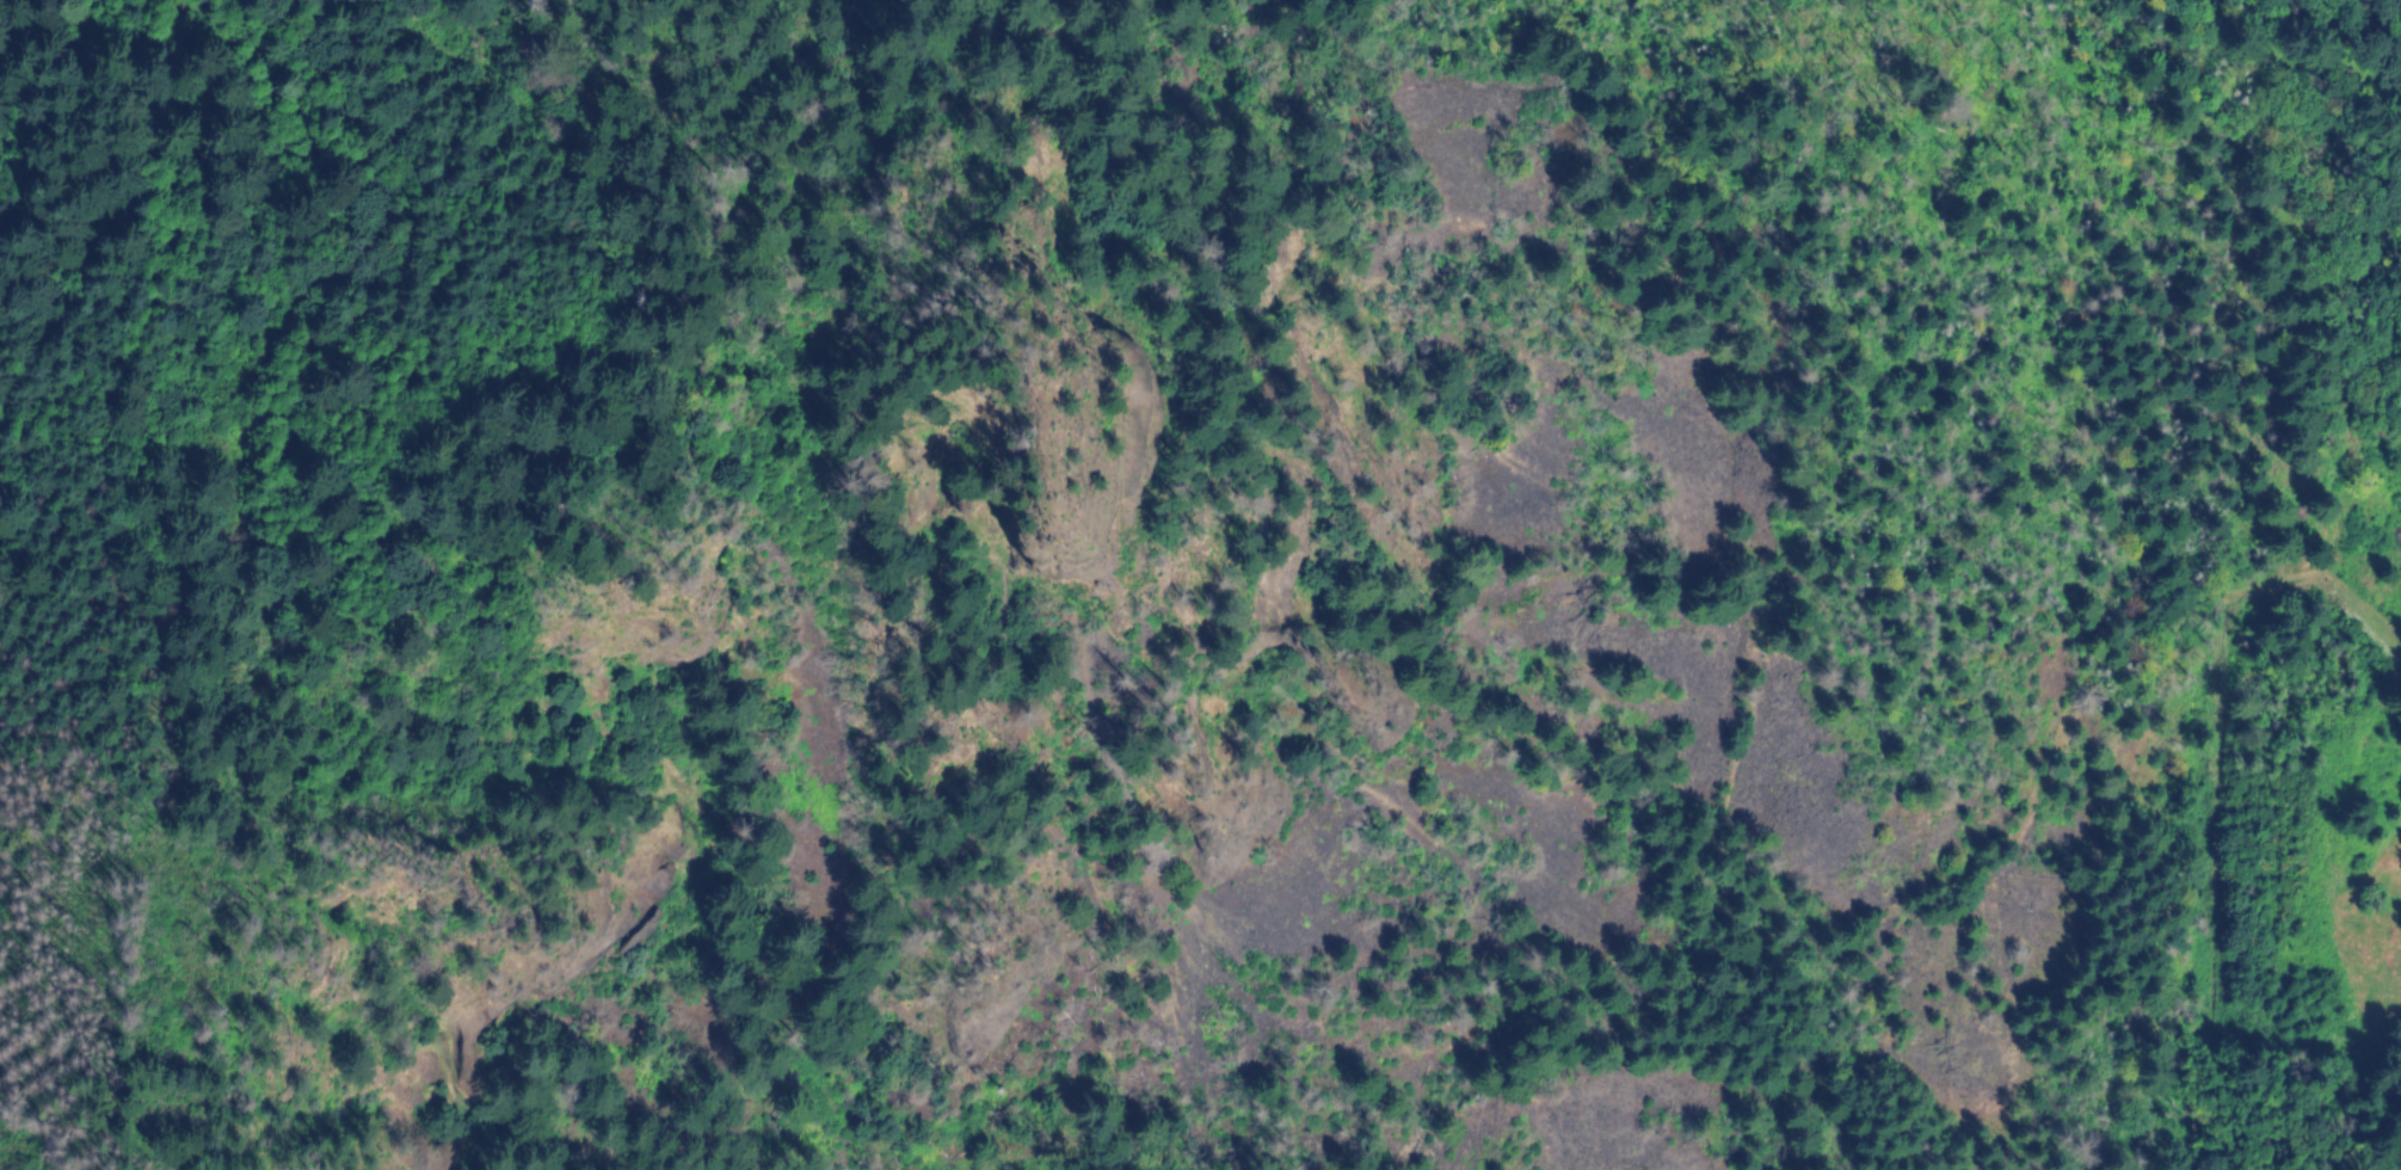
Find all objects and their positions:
road: (7, 6)
road: (694, 170)
road: (499, 288)
road: (1028, 398)
road: (155, 654)

